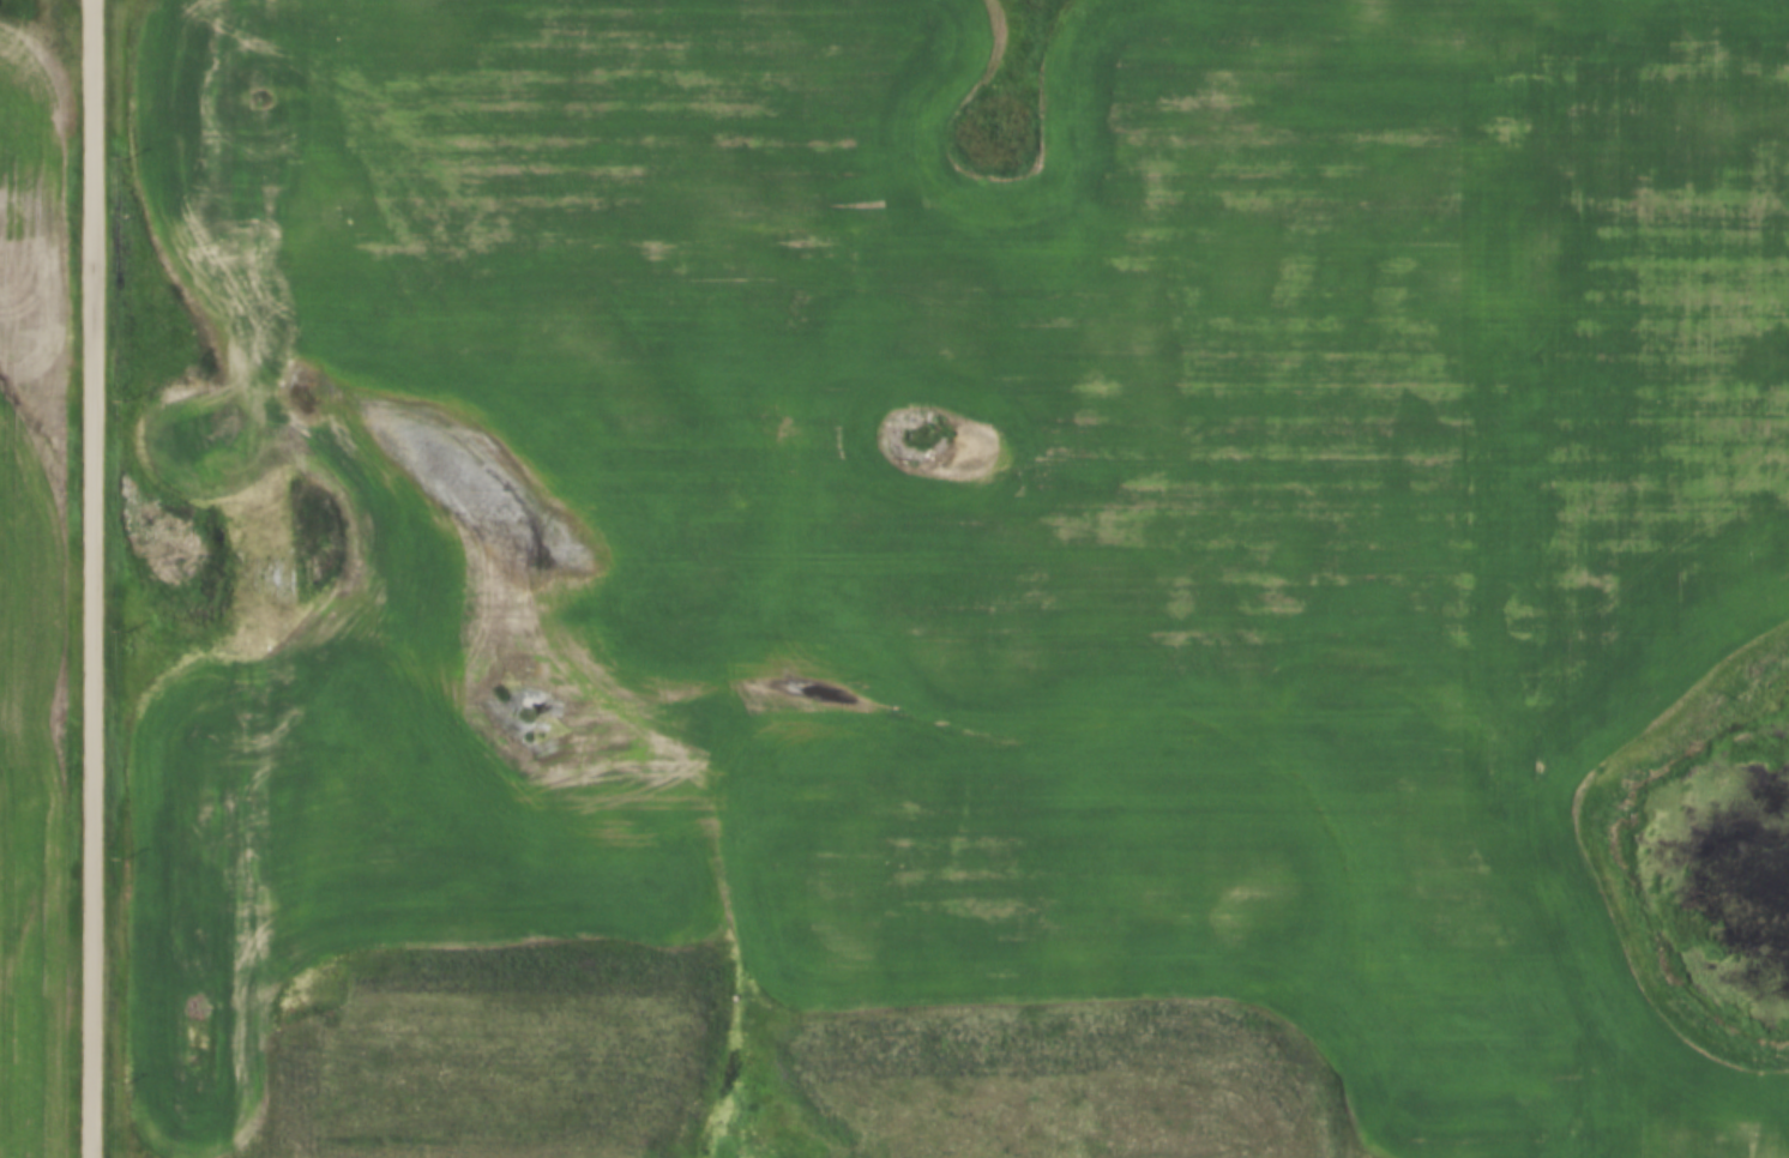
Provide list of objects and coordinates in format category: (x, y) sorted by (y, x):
road: (38, 32)
road: (97, 578)

